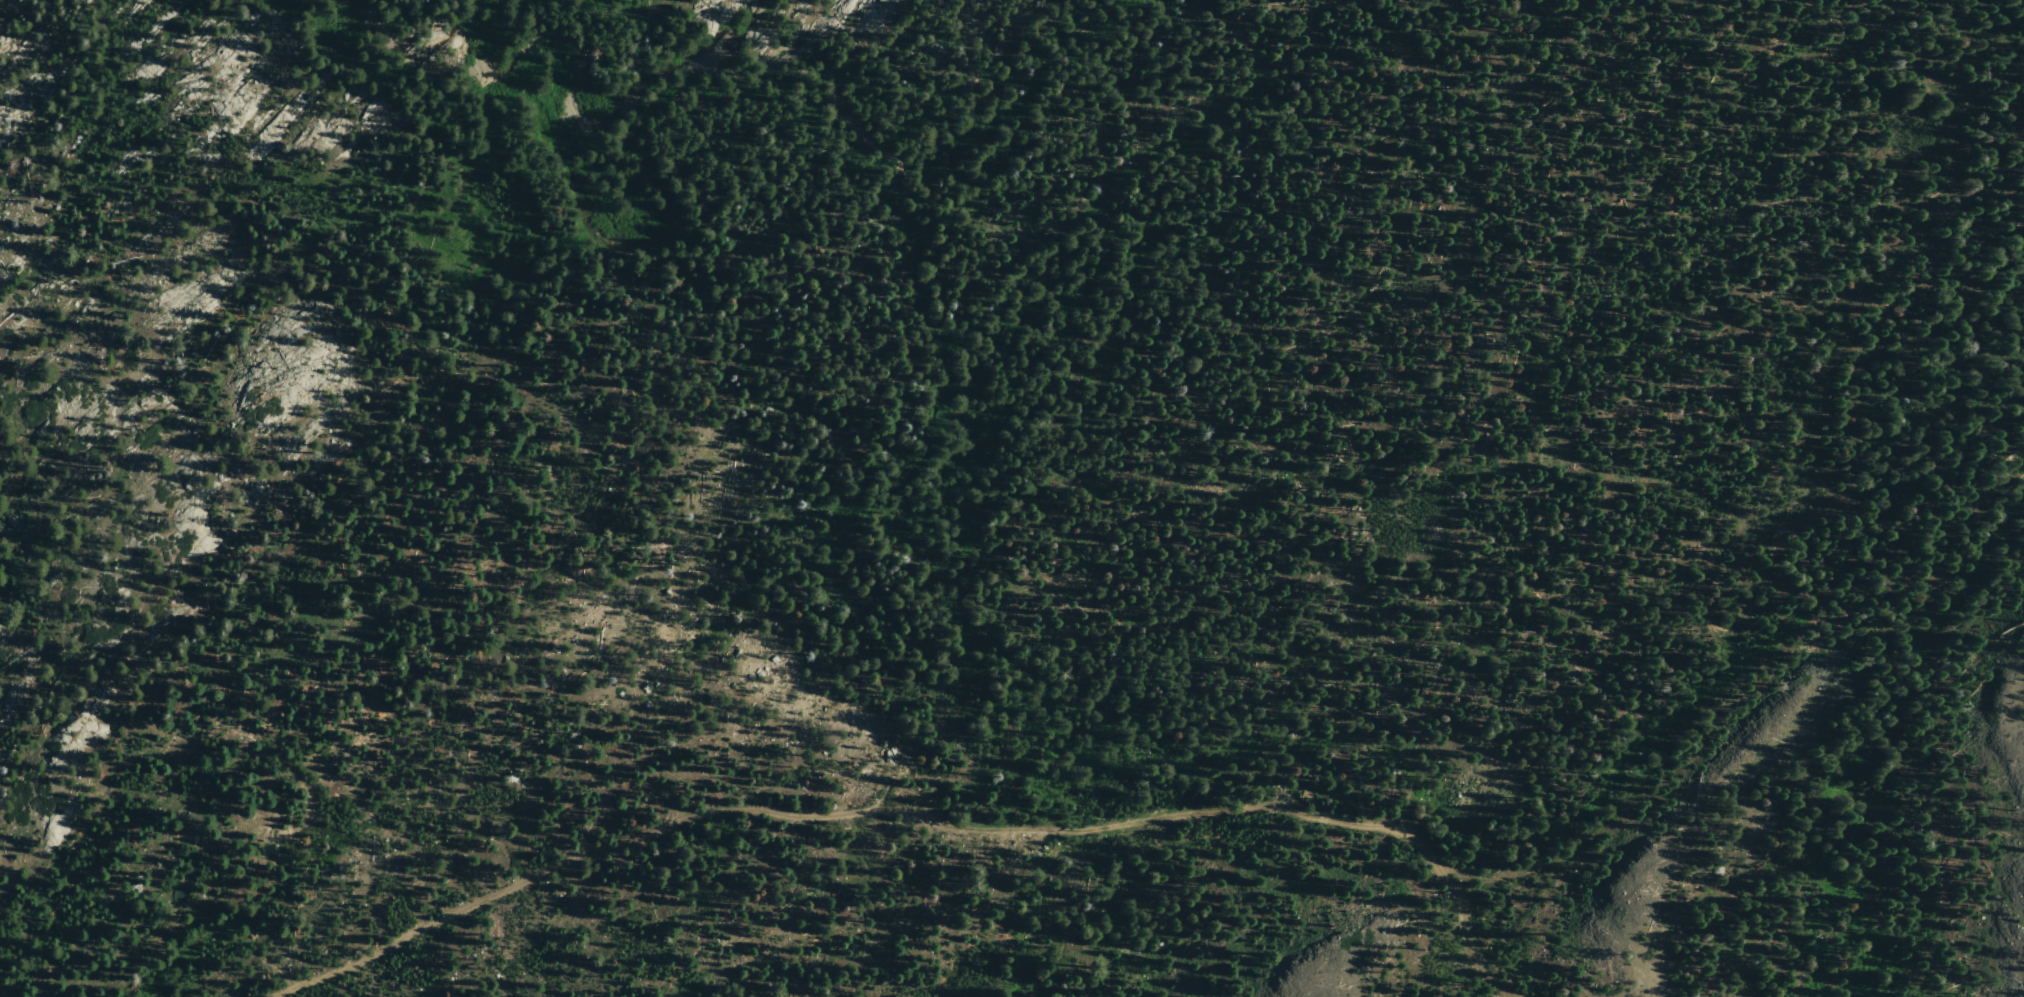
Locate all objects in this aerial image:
road: (562, 820)

